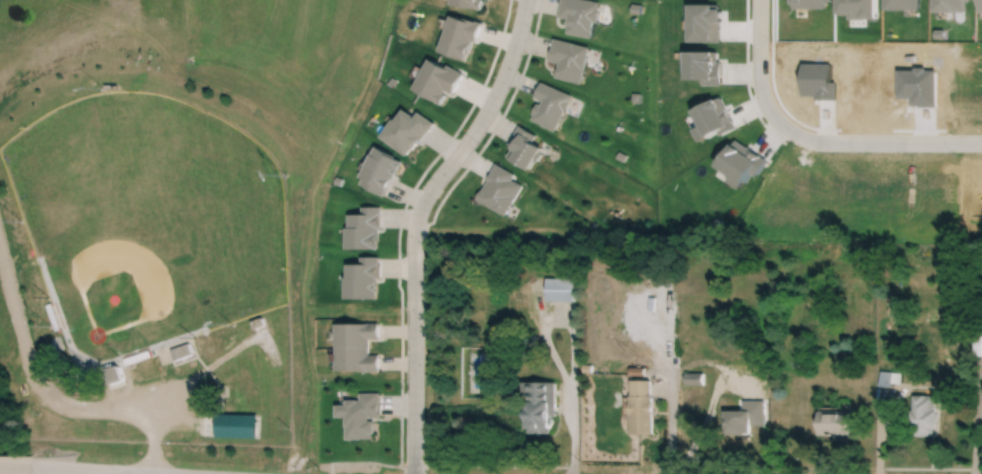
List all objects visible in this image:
building: (470, 4)
building: (460, 38)
road: (757, 43)
building: (437, 82)
road: (857, 138)
park: (148, 219)
road: (416, 222)
building: (560, 290)
building: (356, 348)
building: (179, 350)
building: (113, 375)
road: (52, 403)
building: (540, 408)
building: (641, 408)
building: (923, 416)
building: (746, 422)
building: (235, 424)
building: (834, 424)
road: (976, 426)
river: (7, 448)
road: (16, 467)
road: (90, 471)

